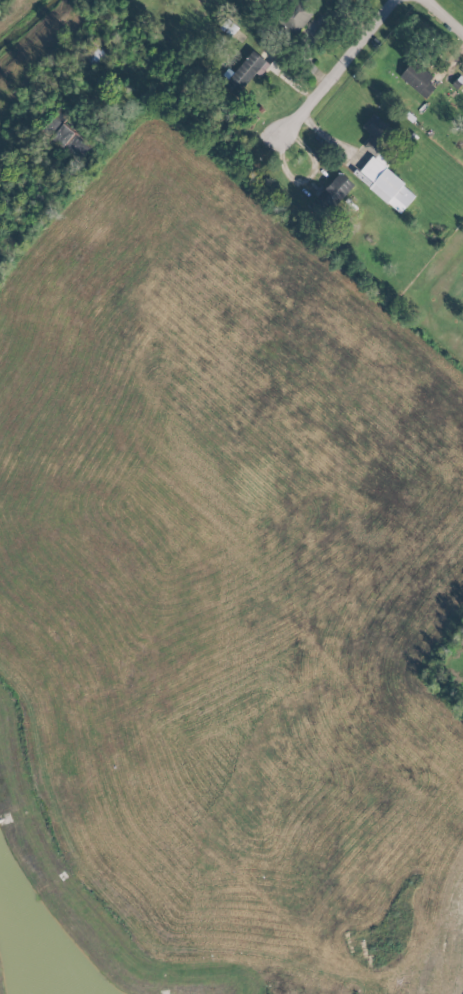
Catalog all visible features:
building: (297, 13)
road: (443, 15)
building: (91, 51)
building: (248, 69)
road: (340, 71)
building: (417, 79)
building: (383, 166)
building: (333, 191)

